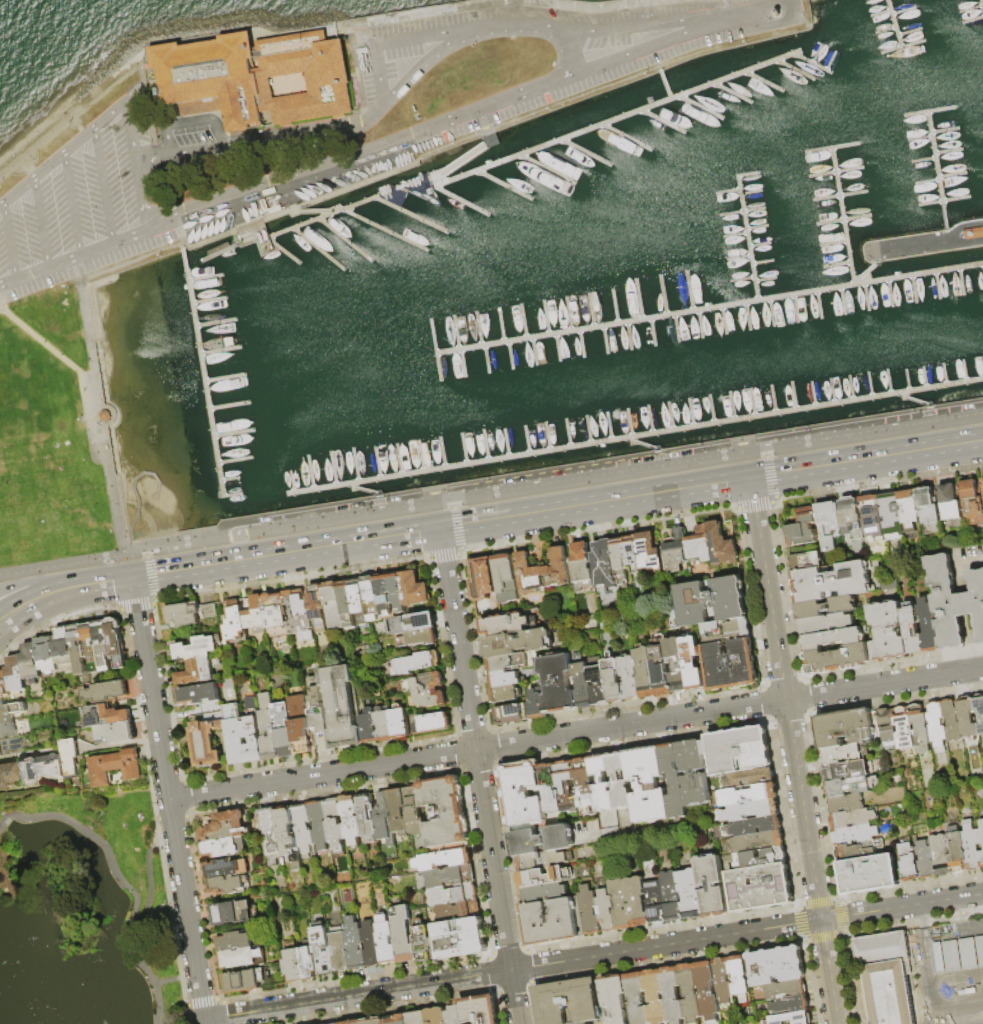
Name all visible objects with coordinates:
road: (784, 1)
pier: (981, 4)
pier: (970, 9)
pier: (901, 10)
road: (789, 11)
pier: (879, 13)
road: (736, 16)
pier: (972, 20)
pier: (892, 24)
road: (637, 26)
pier: (884, 31)
pier: (908, 32)
road: (430, 34)
building: (406, 41)
pier: (902, 47)
road: (639, 48)
pier: (815, 54)
pier: (829, 60)
pier: (811, 63)
parking lot: (381, 69)
pier: (795, 69)
building: (368, 72)
road: (378, 76)
building: (258, 79)
pier: (762, 81)
pier: (665, 86)
parking lot: (576, 87)
pier: (732, 93)
road: (503, 100)
road: (386, 104)
pier: (701, 107)
pier: (928, 110)
road: (75, 117)
pier: (617, 118)
road: (185, 120)
pier: (662, 121)
pier: (944, 130)
road: (217, 133)
parking lot: (191, 135)
pier: (626, 137)
pier: (919, 138)
road: (132, 140)
road: (165, 144)
pier: (830, 148)
road: (62, 152)
pier: (585, 152)
pier: (947, 152)
road: (272, 158)
pier: (923, 159)
road: (148, 164)
pier: (546, 169)
pier: (834, 172)
pier: (747, 175)
pier: (937, 175)
pier: (951, 175)
road: (279, 177)
pier: (433, 181)
pier: (926, 181)
road: (103, 184)
pier: (504, 184)
pier: (727, 191)
pier: (751, 193)
pier: (838, 196)
pier: (942, 200)
pier: (461, 201)
road: (70, 204)
road: (144, 204)
parking lot: (76, 205)
pier: (313, 211)
pier: (333, 211)
pier: (741, 212)
road: (240, 214)
pier: (411, 215)
pier: (843, 216)
pier: (842, 220)
road: (40, 221)
pier: (756, 227)
road: (963, 227)
pier: (384, 230)
building: (973, 233)
pier: (734, 235)
pier: (746, 238)
pier: (343, 239)
road: (7, 241)
pier: (833, 243)
pier: (924, 243)
road: (924, 243)
pier: (758, 245)
pier: (317, 247)
pier: (286, 253)
road: (74, 256)
pier: (738, 257)
pier: (762, 261)
pier: (837, 265)
pier: (869, 269)
pier: (918, 273)
pier: (205, 278)
pier: (741, 280)
pier: (764, 280)
pier: (961, 281)
pier: (937, 285)
pier: (913, 289)
pier: (689, 290)
pier: (890, 293)
pier: (662, 295)
pier: (866, 296)
pier: (638, 299)
pier: (208, 300)
pier: (842, 301)
pier: (819, 304)
pier: (614, 306)
pier: (795, 309)
pier: (590, 310)
pier: (771, 312)
pier: (567, 314)
pier: (747, 316)
pier: (546, 317)
pier: (645, 319)
pier: (723, 320)
pier: (523, 321)
road: (86, 323)
pier: (216, 323)
pier: (699, 323)
pier: (501, 325)
pier: (676, 327)
pier: (478, 329)
pier: (455, 332)
pier: (653, 332)
pier: (630, 335)
pier: (605, 339)
pier: (581, 344)
road: (48, 347)
pier: (558, 347)
pier: (220, 350)
pier: (435, 351)
pier: (534, 352)
pier: (511, 356)
pier: (487, 359)
pier: (982, 360)
pier: (462, 363)
pier: (964, 371)
pier: (202, 374)
pier: (944, 374)
pier: (224, 378)
pier: (924, 378)
pier: (907, 380)
pier: (888, 382)
pier: (869, 385)
pier: (851, 388)
pier: (831, 391)
pier: (813, 394)
pier: (793, 396)
pier: (773, 399)
pier: (915, 400)
pier: (752, 402)
pier: (228, 405)
pier: (732, 406)
pier: (711, 409)
pier: (691, 413)
pier: (669, 416)
pier: (649, 419)
pier: (628, 423)
pier: (608, 426)
pier: (587, 430)
pier: (567, 433)
pier: (233, 434)
park: (48, 436)
pier: (547, 436)
pier: (633, 436)
pier: (527, 440)
pier: (505, 443)
pier: (484, 445)
pier: (642, 445)
pier: (464, 448)
pier: (442, 452)
pier: (420, 456)
road: (866, 458)
pier: (398, 459)
pier: (234, 460)
pier: (376, 463)
road: (769, 464)
pier: (355, 465)
pier: (332, 468)
pier: (310, 472)
pier: (229, 479)
pier: (291, 482)
road: (111, 484)
pier: (364, 490)
road: (138, 495)
pier: (231, 495)
road: (492, 498)
road: (594, 502)
building: (973, 502)
building: (952, 506)
building: (930, 511)
road: (455, 515)
building: (912, 515)
building: (807, 516)
building: (893, 516)
building: (874, 518)
building: (853, 519)
building: (830, 525)
building: (802, 536)
building: (699, 544)
building: (722, 547)
building: (675, 548)
building: (649, 550)
road: (287, 552)
building: (634, 556)
building: (620, 559)
building: (808, 562)
building: (604, 564)
building: (582, 566)
building: (542, 571)
building: (483, 578)
building: (506, 578)
road: (102, 582)
building: (833, 582)
road: (35, 587)
road: (768, 588)
building: (414, 590)
building: (396, 594)
building: (383, 596)
building: (371, 598)
road: (33, 601)
building: (705, 602)
building: (955, 602)
building: (359, 604)
building: (332, 606)
building: (346, 606)
building: (828, 608)
building: (317, 609)
building: (209, 611)
building: (259, 613)
building: (183, 615)
building: (275, 615)
building: (299, 615)
building: (249, 621)
building: (411, 624)
building: (506, 624)
building: (234, 625)
building: (828, 625)
building: (930, 627)
building: (726, 630)
building: (913, 630)
building: (889, 632)
building: (417, 638)
road: (458, 638)
building: (834, 640)
building: (116, 642)
building: (518, 642)
building: (103, 645)
building: (91, 647)
building: (79, 649)
building: (64, 650)
building: (47, 655)
building: (838, 660)
building: (197, 661)
building: (506, 661)
building: (421, 662)
building: (31, 663)
building: (692, 663)
building: (676, 665)
building: (730, 665)
building: (660, 671)
building: (644, 673)
building: (629, 677)
building: (507, 678)
building: (613, 678)
building: (581, 681)
building: (557, 683)
road: (884, 684)
building: (16, 685)
building: (598, 685)
building: (4, 690)
building: (429, 690)
building: (106, 692)
building: (505, 693)
building: (197, 695)
building: (537, 705)
building: (341, 707)
building: (317, 713)
building: (978, 713)
building: (5, 714)
building: (510, 714)
building: (106, 715)
building: (967, 719)
building: (952, 721)
building: (399, 723)
building: (432, 724)
road: (630, 724)
building: (300, 725)
building: (937, 725)
building: (383, 726)
building: (368, 727)
building: (844, 727)
building: (888, 727)
building: (904, 728)
building: (7, 729)
building: (268, 729)
building: (920, 729)
building: (284, 731)
building: (252, 732)
building: (116, 733)
building: (235, 734)
building: (206, 744)
building: (9, 746)
building: (736, 749)
building: (845, 752)
building: (70, 758)
building: (52, 767)
building: (115, 767)
building: (35, 768)
building: (847, 769)
building: (23, 771)
building: (693, 771)
building: (5, 773)
road: (322, 774)
building: (747, 777)
building: (619, 780)
building: (674, 780)
building: (601, 782)
building: (647, 784)
building: (584, 785)
building: (848, 785)
building: (566, 786)
building: (550, 787)
building: (522, 794)
building: (747, 794)
road: (169, 800)
building: (846, 802)
building: (750, 810)
building: (398, 811)
building: (415, 811)
building: (445, 811)
building: (367, 816)
building: (852, 817)
building: (384, 819)
building: (352, 822)
building: (319, 824)
building: (336, 825)
building: (753, 826)
building: (229, 827)
building: (304, 829)
building: (855, 833)
building: (272, 835)
building: (289, 836)
building: (981, 837)
building: (540, 839)
building: (757, 842)
building: (972, 847)
building: (221, 849)
building: (859, 850)
building: (956, 850)
building: (445, 856)
building: (941, 856)
building: (760, 858)
building: (543, 860)
building: (925, 860)
road: (811, 862)
building: (909, 863)
building: (228, 869)
building: (869, 873)
road: (148, 874)
building: (450, 875)
building: (543, 877)
road: (121, 881)
building: (230, 885)
building: (712, 885)
road: (497, 887)
building: (758, 887)
building: (543, 892)
building: (690, 893)
building: (453, 894)
building: (671, 895)
building: (637, 901)
building: (655, 901)
building: (621, 904)
building: (458, 910)
building: (588, 910)
building: (605, 910)
building: (233, 913)
park: (84, 914)
building: (552, 921)
building: (962, 931)
building: (404, 933)
building: (458, 938)
building: (387, 940)
building: (423, 940)
building: (236, 942)
building: (355, 943)
building: (371, 944)
building: (340, 949)
building: (323, 950)
building: (964, 955)
road: (593, 956)
building: (243, 959)
building: (308, 963)
building: (293, 965)
building: (776, 965)
building: (888, 977)
building: (739, 978)
road: (176, 980)
building: (722, 980)
building: (245, 982)
building: (786, 989)
building: (706, 990)
building: (689, 992)
building: (671, 995)
building: (653, 997)
building: (614, 998)
building: (636, 998)
building: (567, 1001)
building: (791, 1004)
building: (479, 1010)
building: (453, 1014)
building: (436, 1016)
building: (417, 1018)
building: (791, 1018)
building: (398, 1020)
building: (375, 1021)
building: (354, 1022)
building: (581, 1023)

